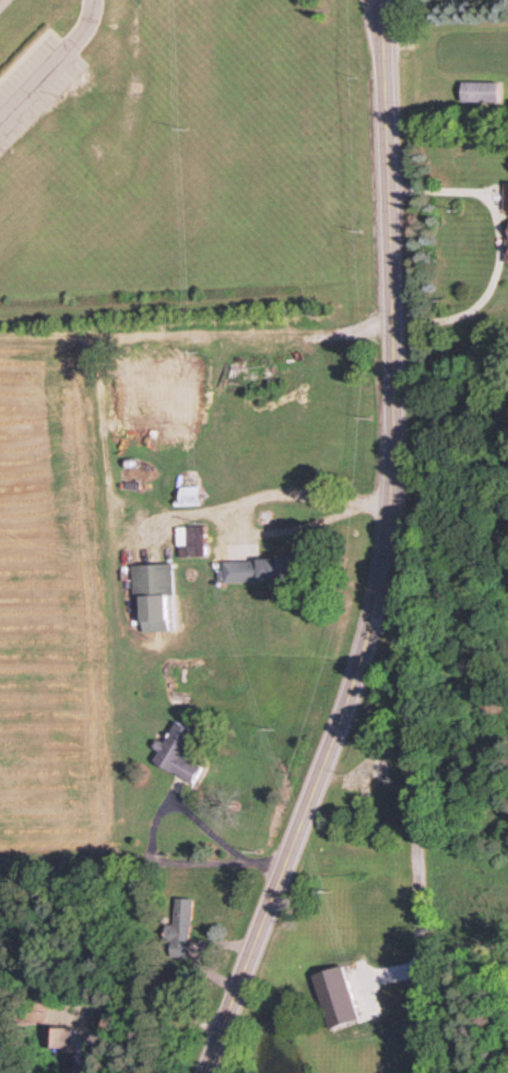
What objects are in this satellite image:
crop: (475, 48)
road: (54, 64)
parking lot: (34, 83)
building: (477, 93)
building: (505, 225)
road: (498, 249)
building: (161, 431)
building: (185, 497)
building: (187, 542)
road: (388, 553)
building: (256, 570)
crop: (55, 586)
building: (150, 598)
building: (176, 754)
road: (418, 845)
road: (227, 857)
road: (115, 862)
building: (176, 931)
road: (137, 1007)
building: (52, 1038)

